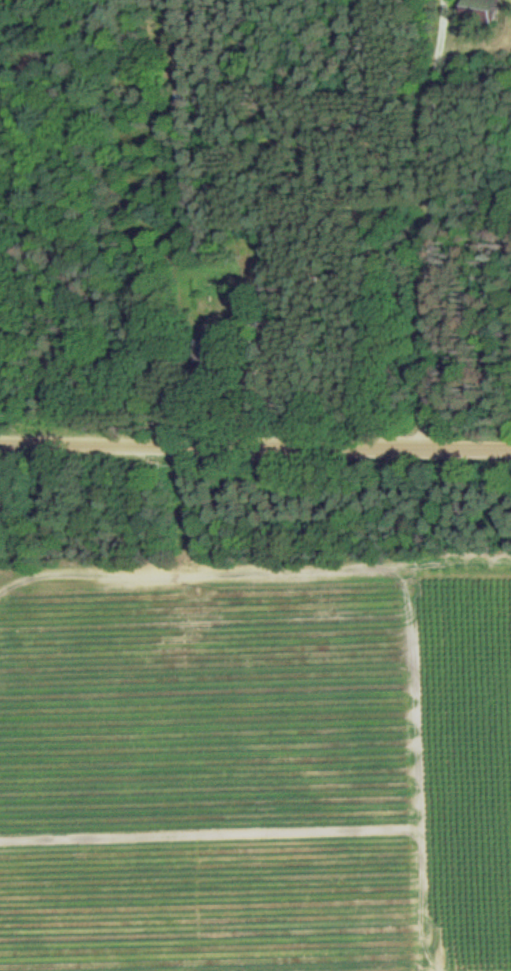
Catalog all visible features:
building: (479, 9)
road: (430, 227)
road: (255, 451)

